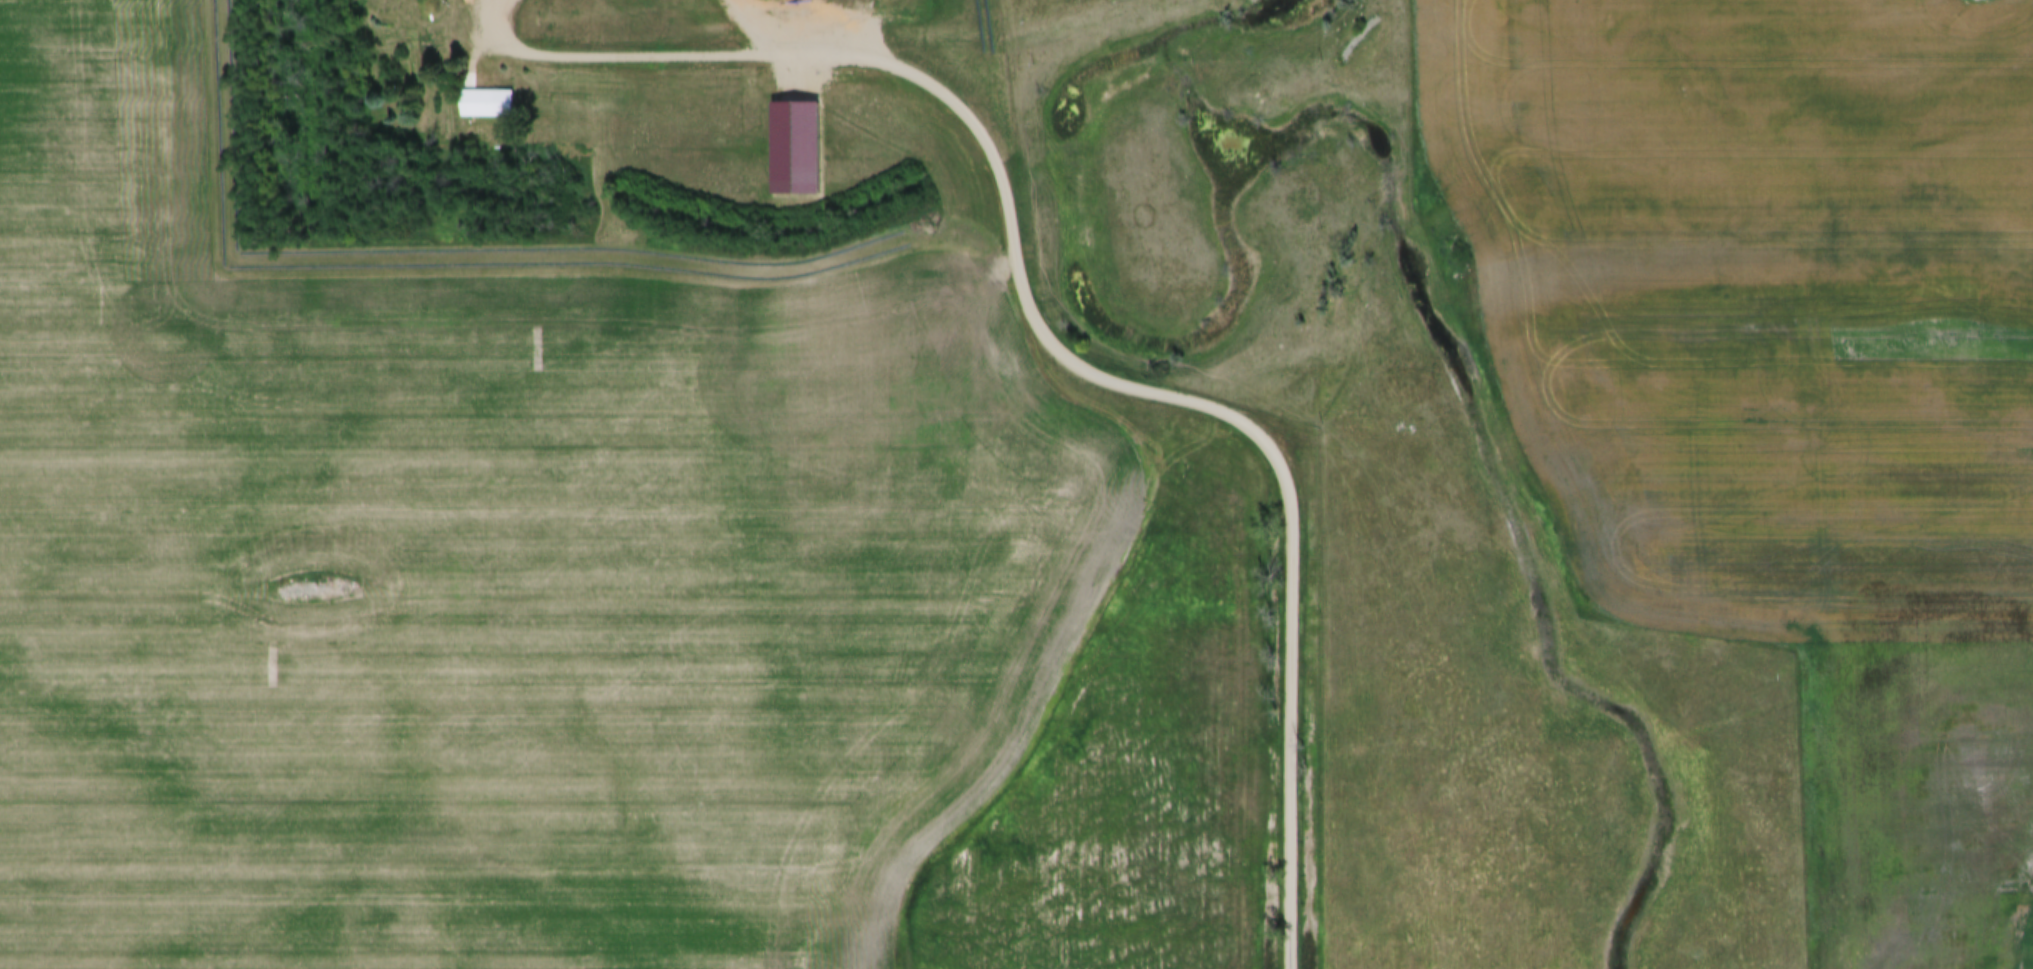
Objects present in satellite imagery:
building: (484, 106)
building: (794, 148)
road: (1049, 340)

